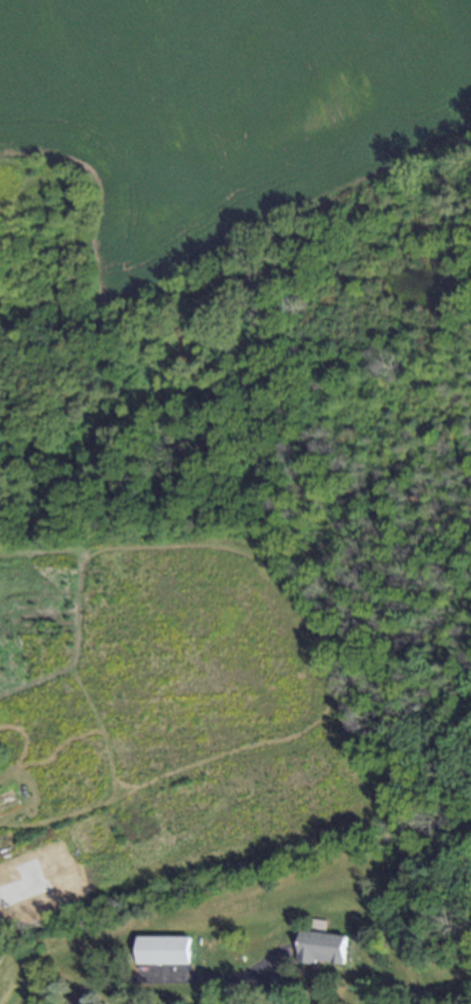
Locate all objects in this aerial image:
crop: (223, 109)
building: (322, 947)
building: (165, 949)
road: (174, 978)

